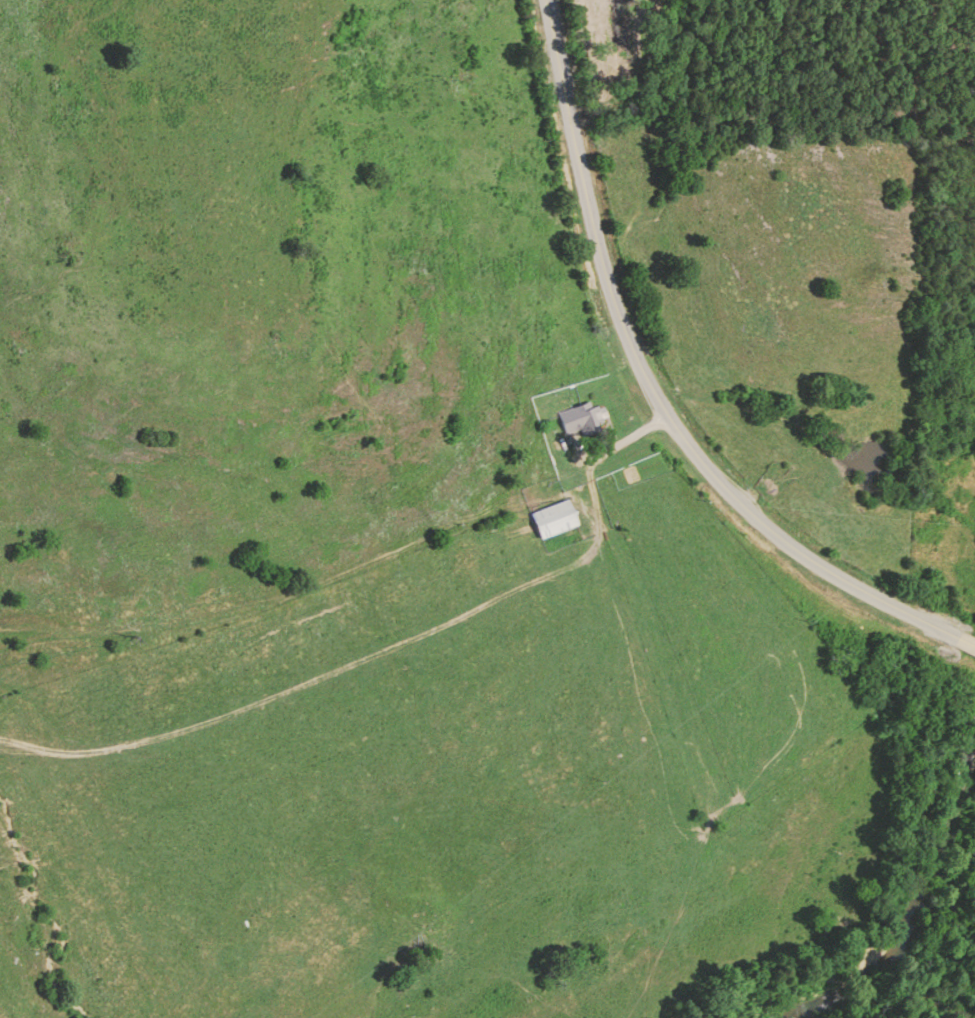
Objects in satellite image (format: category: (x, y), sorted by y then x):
road: (659, 394)
building: (581, 417)
building: (557, 518)

